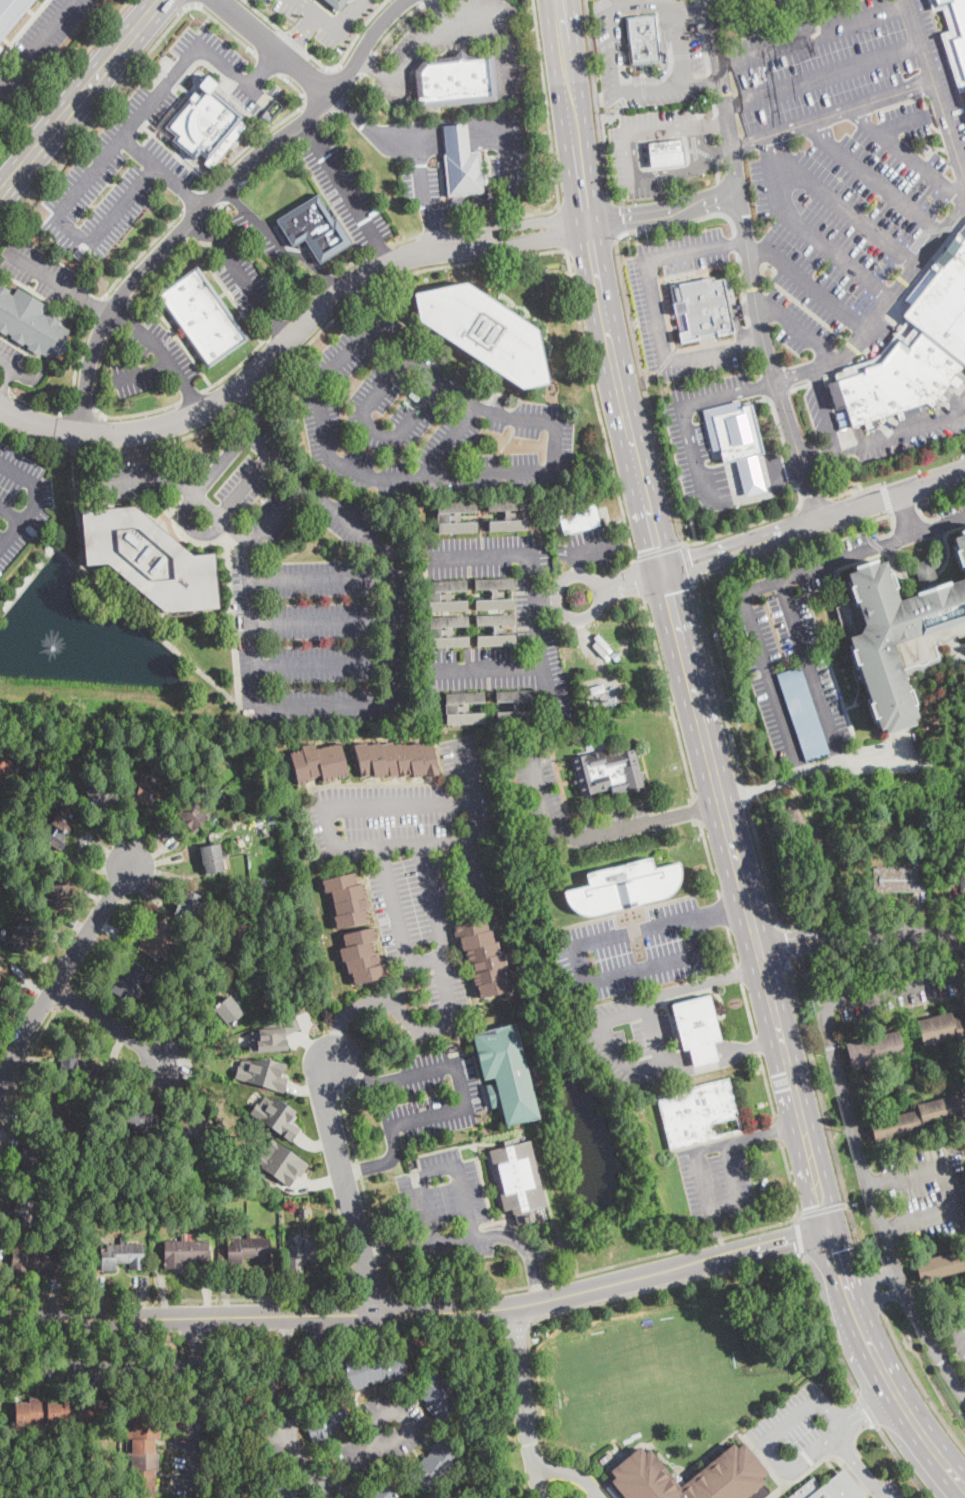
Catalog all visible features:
parking lot: (266, 1)
road: (424, 1)
road: (199, 2)
building: (338, 3)
road: (637, 5)
road: (691, 7)
road: (334, 9)
road: (698, 9)
road: (555, 10)
road: (557, 10)
road: (562, 10)
building: (11, 14)
road: (439, 14)
road: (262, 15)
road: (477, 17)
parking lot: (315, 19)
road: (203, 23)
road: (393, 26)
road: (23, 28)
road: (334, 28)
road: (298, 31)
road: (814, 32)
road: (356, 34)
building: (954, 36)
building: (645, 39)
road: (293, 42)
road: (35, 43)
parking lot: (37, 45)
road: (704, 45)
parking lot: (691, 46)
building: (0, 48)
road: (275, 48)
parking lot: (611, 51)
parking lot: (409, 54)
road: (317, 61)
road: (267, 63)
road: (368, 64)
road: (265, 68)
road: (379, 70)
road: (567, 70)
road: (346, 72)
parking lot: (233, 73)
road: (824, 74)
road: (63, 76)
road: (648, 76)
building: (455, 80)
road: (709, 80)
road: (354, 81)
road: (703, 81)
road: (119, 84)
road: (314, 84)
road: (936, 84)
road: (617, 88)
road: (79, 95)
road: (596, 99)
road: (341, 101)
road: (714, 101)
road: (547, 102)
building: (274, 105)
building: (271, 109)
road: (833, 113)
building: (267, 117)
road: (325, 117)
road: (715, 124)
building: (205, 125)
road: (368, 129)
road: (264, 130)
road: (307, 131)
road: (460, 136)
building: (456, 138)
building: (924, 146)
road: (718, 149)
road: (702, 150)
parking lot: (508, 151)
road: (540, 151)
building: (668, 153)
road: (907, 154)
parking lot: (620, 155)
road: (267, 159)
parking lot: (832, 166)
road: (717, 169)
road: (635, 172)
building: (463, 173)
road: (84, 177)
road: (423, 177)
road: (172, 178)
road: (874, 178)
parking lot: (420, 184)
parking lot: (108, 188)
parking lot: (345, 189)
road: (231, 192)
road: (346, 193)
road: (501, 195)
road: (213, 197)
road: (720, 197)
road: (191, 198)
road: (196, 199)
road: (836, 204)
road: (214, 209)
road: (664, 214)
road: (503, 217)
road: (611, 219)
road: (524, 224)
road: (198, 227)
road: (563, 227)
building: (314, 228)
road: (431, 231)
road: (432, 231)
road: (733, 237)
road: (821, 238)
road: (404, 239)
road: (527, 241)
road: (279, 244)
road: (378, 248)
road: (141, 252)
road: (471, 261)
road: (351, 262)
road: (747, 264)
parking lot: (36, 268)
road: (158, 268)
road: (44, 273)
road: (326, 277)
parking lot: (243, 278)
road: (241, 279)
road: (809, 281)
road: (370, 292)
road: (377, 298)
road: (301, 300)
road: (663, 302)
road: (96, 305)
road: (98, 305)
building: (703, 307)
road: (884, 308)
road: (74, 309)
road: (653, 309)
parking lot: (640, 312)
road: (120, 313)
building: (202, 317)
building: (31, 324)
road: (274, 325)
road: (797, 328)
building: (485, 332)
road: (56, 341)
road: (182, 343)
road: (306, 343)
building: (916, 344)
road: (610, 348)
road: (167, 353)
parking lot: (8, 356)
parking lot: (171, 357)
road: (664, 359)
road: (6, 361)
road: (77, 361)
road: (237, 365)
road: (143, 368)
road: (6, 376)
road: (33, 378)
road: (650, 378)
road: (245, 383)
road: (763, 385)
road: (800, 385)
parking lot: (708, 386)
road: (4, 389)
road: (645, 392)
road: (778, 392)
road: (191, 396)
road: (248, 401)
road: (687, 403)
road: (35, 404)
road: (597, 404)
parking lot: (819, 405)
road: (97, 408)
road: (261, 408)
road: (713, 409)
road: (826, 409)
road: (321, 410)
road: (83, 411)
building: (912, 411)
parking lot: (423, 421)
road: (776, 421)
road: (371, 426)
road: (0, 427)
building: (709, 430)
building: (736, 432)
road: (883, 436)
road: (446, 439)
road: (170, 440)
road: (36, 442)
parking lot: (685, 446)
road: (84, 451)
road: (222, 460)
road: (81, 464)
road: (790, 464)
building: (748, 473)
road: (750, 473)
parking lot: (129, 478)
road: (244, 482)
road: (856, 490)
road: (799, 493)
road: (941, 497)
road: (886, 498)
parking lot: (20, 501)
road: (34, 502)
road: (814, 502)
road: (904, 508)
road: (276, 510)
road: (905, 513)
parking lot: (953, 513)
road: (11, 514)
building: (509, 515)
road: (881, 516)
building: (455, 517)
building: (579, 518)
road: (815, 522)
road: (742, 528)
road: (190, 529)
road: (891, 531)
road: (683, 543)
road: (55, 546)
parking lot: (589, 546)
building: (960, 548)
road: (657, 550)
road: (781, 550)
road: (575, 553)
building: (148, 559)
road: (686, 562)
road: (923, 571)
building: (925, 572)
traffic signals: (665, 573)
road: (321, 576)
road: (637, 577)
road: (620, 584)
road: (763, 585)
parking lot: (308, 588)
road: (668, 591)
building: (496, 594)
building: (446, 596)
road: (554, 599)
road: (533, 612)
road: (322, 617)
parking lot: (534, 625)
building: (497, 629)
building: (447, 631)
building: (896, 636)
parking lot: (795, 655)
building: (615, 657)
road: (324, 663)
road: (811, 671)
road: (716, 681)
road: (213, 683)
road: (546, 686)
building: (594, 690)
road: (668, 698)
road: (320, 702)
building: (516, 706)
building: (463, 708)
building: (803, 713)
building: (506, 756)
building: (396, 759)
road: (712, 762)
building: (318, 763)
building: (6, 771)
building: (607, 771)
road: (781, 782)
building: (151, 792)
road: (744, 792)
building: (100, 795)
parking lot: (541, 797)
road: (697, 808)
road: (322, 809)
road: (687, 810)
building: (191, 813)
building: (924, 831)
building: (58, 832)
road: (566, 836)
parking lot: (406, 843)
road: (708, 857)
building: (919, 858)
building: (211, 859)
road: (763, 864)
road: (480, 871)
parking lot: (481, 874)
building: (901, 879)
building: (962, 881)
building: (623, 887)
building: (57, 892)
building: (347, 900)
road: (431, 900)
road: (395, 905)
road: (722, 906)
building: (187, 907)
road: (640, 907)
road: (723, 910)
road: (871, 916)
road: (861, 934)
building: (23, 935)
road: (615, 936)
building: (157, 939)
road: (732, 945)
road: (783, 945)
road: (960, 951)
parking lot: (633, 952)
building: (362, 956)
building: (484, 957)
road: (659, 964)
road: (739, 973)
road: (62, 974)
building: (3, 975)
building: (129, 980)
road: (708, 981)
road: (392, 985)
road: (892, 986)
parking lot: (902, 988)
parking lot: (445, 989)
road: (748, 1008)
building: (228, 1010)
building: (689, 1020)
road: (437, 1022)
road: (111, 1025)
building: (941, 1028)
building: (272, 1036)
road: (337, 1040)
parking lot: (629, 1041)
road: (756, 1042)
road: (756, 1043)
building: (874, 1049)
building: (698, 1052)
road: (621, 1054)
road: (696, 1056)
building: (82, 1065)
road: (21, 1066)
road: (457, 1066)
building: (262, 1071)
building: (505, 1073)
road: (354, 1083)
road: (766, 1086)
parking lot: (429, 1093)
building: (55, 1110)
building: (697, 1112)
building: (276, 1115)
building: (918, 1117)
road: (827, 1118)
building: (141, 1119)
building: (192, 1128)
road: (766, 1130)
road: (777, 1130)
building: (32, 1158)
building: (281, 1162)
road: (377, 1162)
building: (517, 1176)
parking lot: (715, 1177)
road: (418, 1178)
road: (789, 1179)
road: (345, 1187)
road: (951, 1188)
parking lot: (928, 1189)
parking lot: (443, 1191)
road: (365, 1192)
building: (117, 1202)
road: (708, 1204)
building: (163, 1205)
road: (876, 1205)
road: (822, 1209)
building: (25, 1212)
traffic signals: (825, 1229)
road: (715, 1231)
road: (826, 1236)
road: (798, 1238)
road: (398, 1245)
road: (829, 1250)
building: (249, 1251)
building: (184, 1252)
building: (305, 1253)
road: (529, 1254)
building: (123, 1256)
building: (32, 1261)
building: (940, 1265)
road: (595, 1268)
road: (870, 1281)
road: (875, 1289)
road: (373, 1295)
road: (179, 1299)
road: (879, 1299)
road: (559, 1310)
road: (417, 1311)
road: (826, 1325)
parking lot: (957, 1337)
road: (93, 1339)
road: (97, 1366)
building: (373, 1370)
park: (644, 1377)
road: (918, 1381)
building: (437, 1396)
road: (525, 1396)
road: (194, 1406)
road: (866, 1408)
road: (829, 1409)
road: (292, 1411)
building: (61, 1412)
building: (328, 1420)
parking lot: (806, 1434)
building: (266, 1445)
road: (372, 1452)
building: (144, 1456)
road: (802, 1459)
road: (901, 1460)
building: (734, 1462)
road: (859, 1466)
building: (433, 1467)
road: (569, 1473)
building: (830, 1488)
parking lot: (886, 1489)
building: (282, 1491)
building: (378, 1491)
road: (544, 1492)
parking lot: (599, 1494)
parking lot: (565, 1496)

